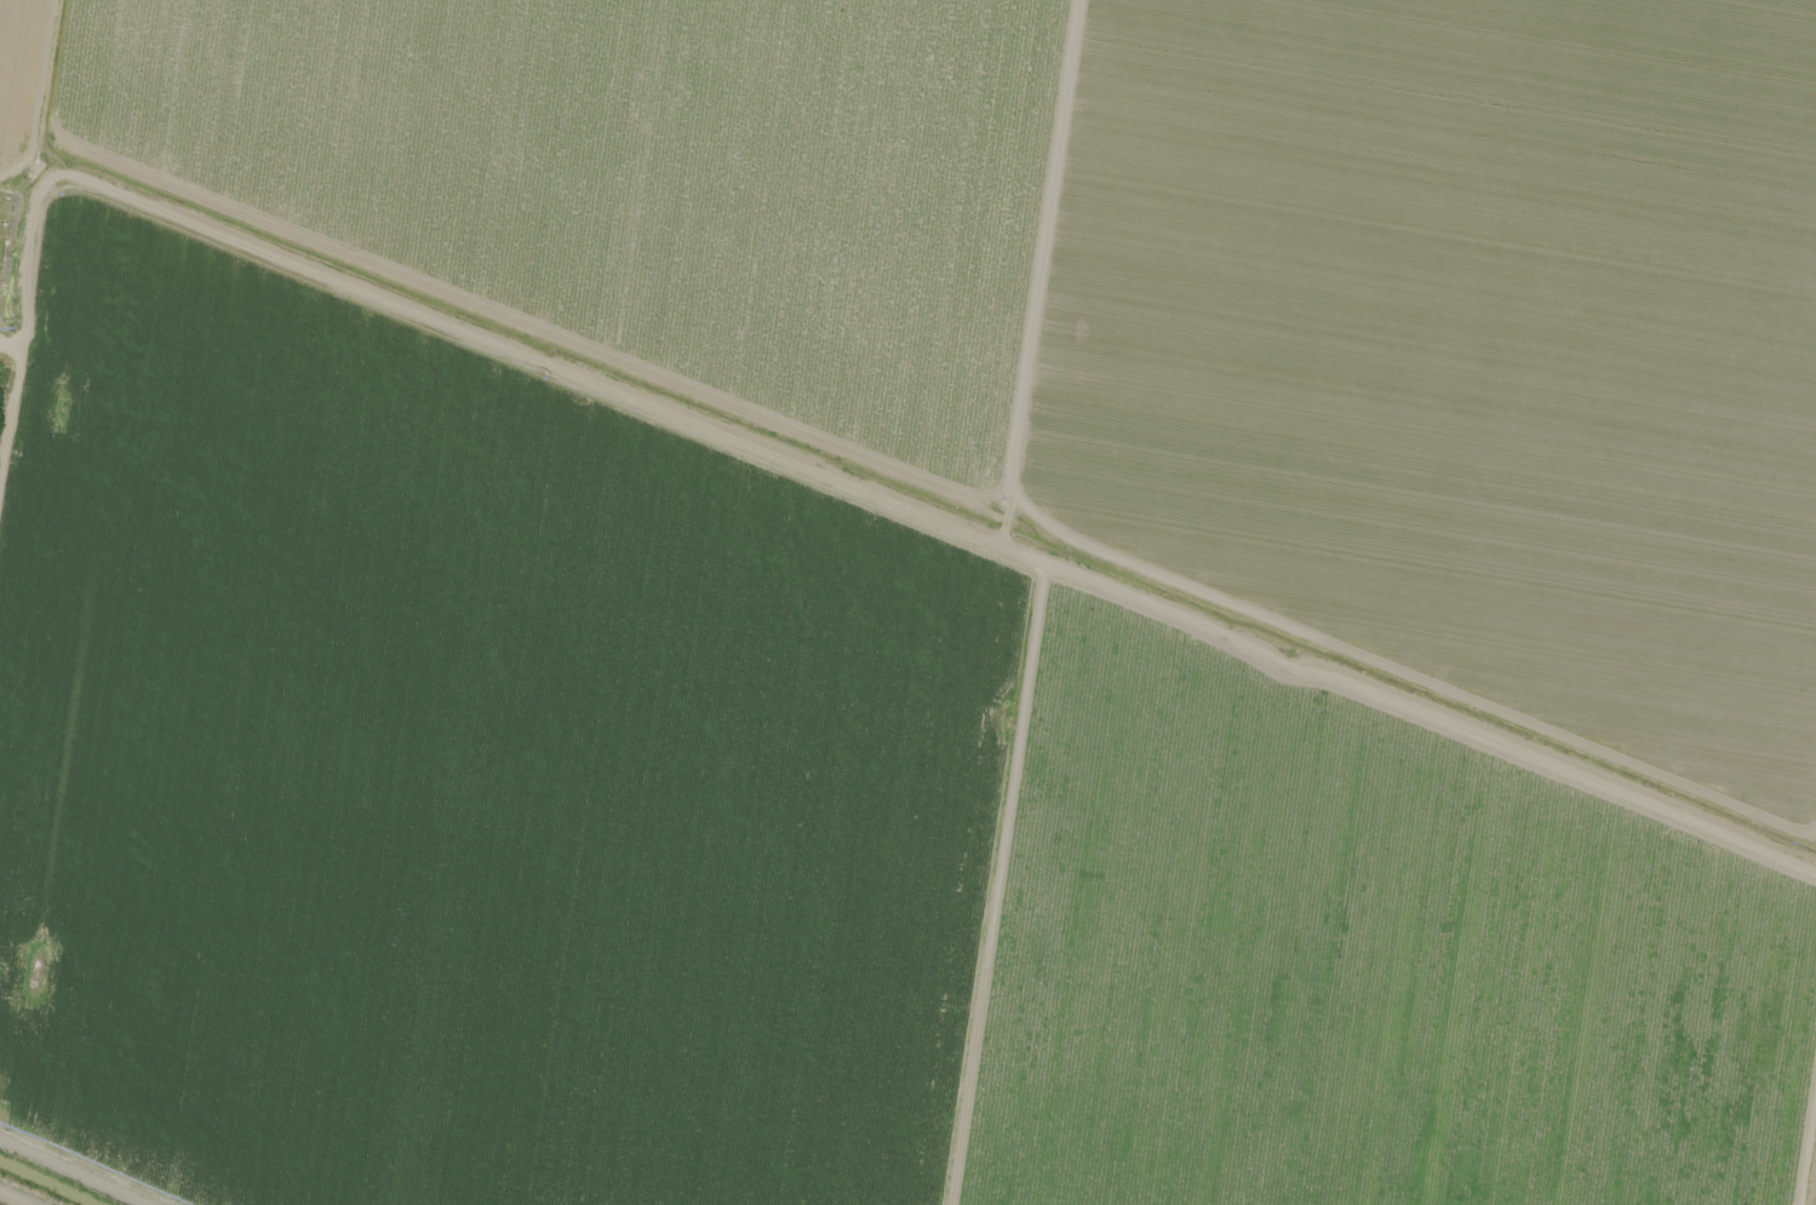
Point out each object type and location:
road: (12, 412)
road: (808, 644)
road: (27, 884)
river: (47, 1182)

